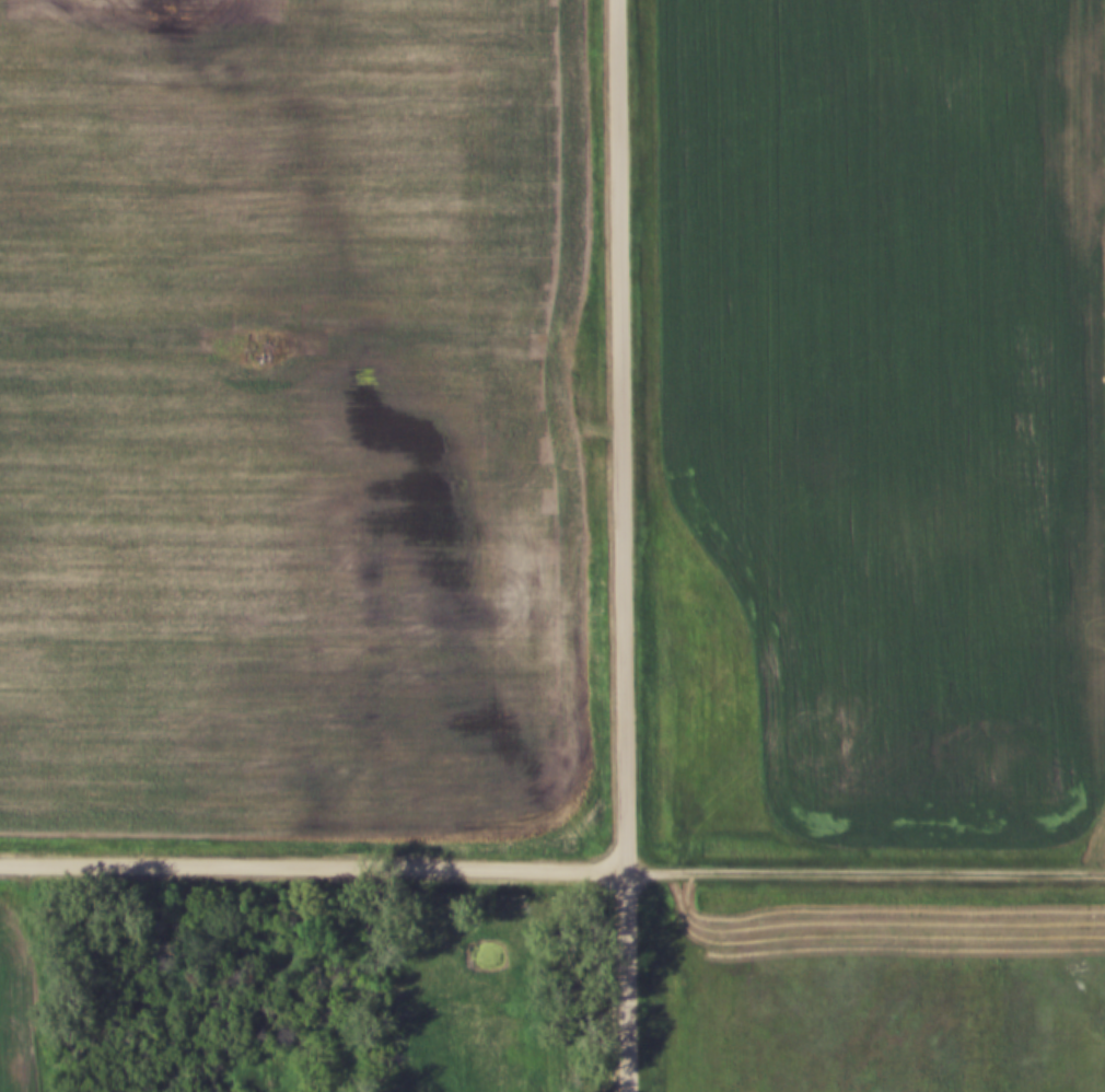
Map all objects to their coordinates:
road: (620, 546)
road: (312, 857)
road: (864, 864)

